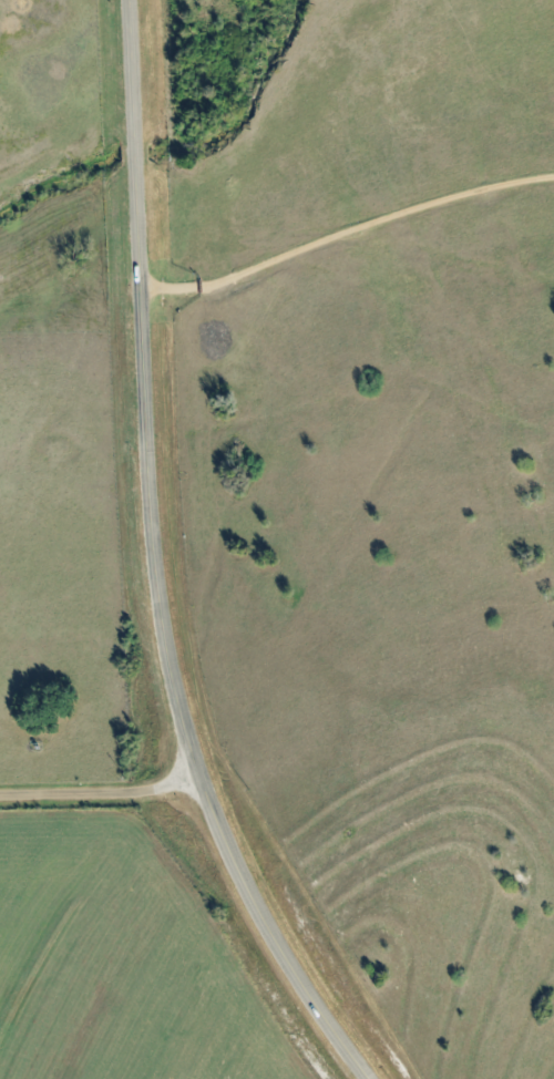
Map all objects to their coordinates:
road: (345, 226)
road: (154, 565)
road: (101, 792)

